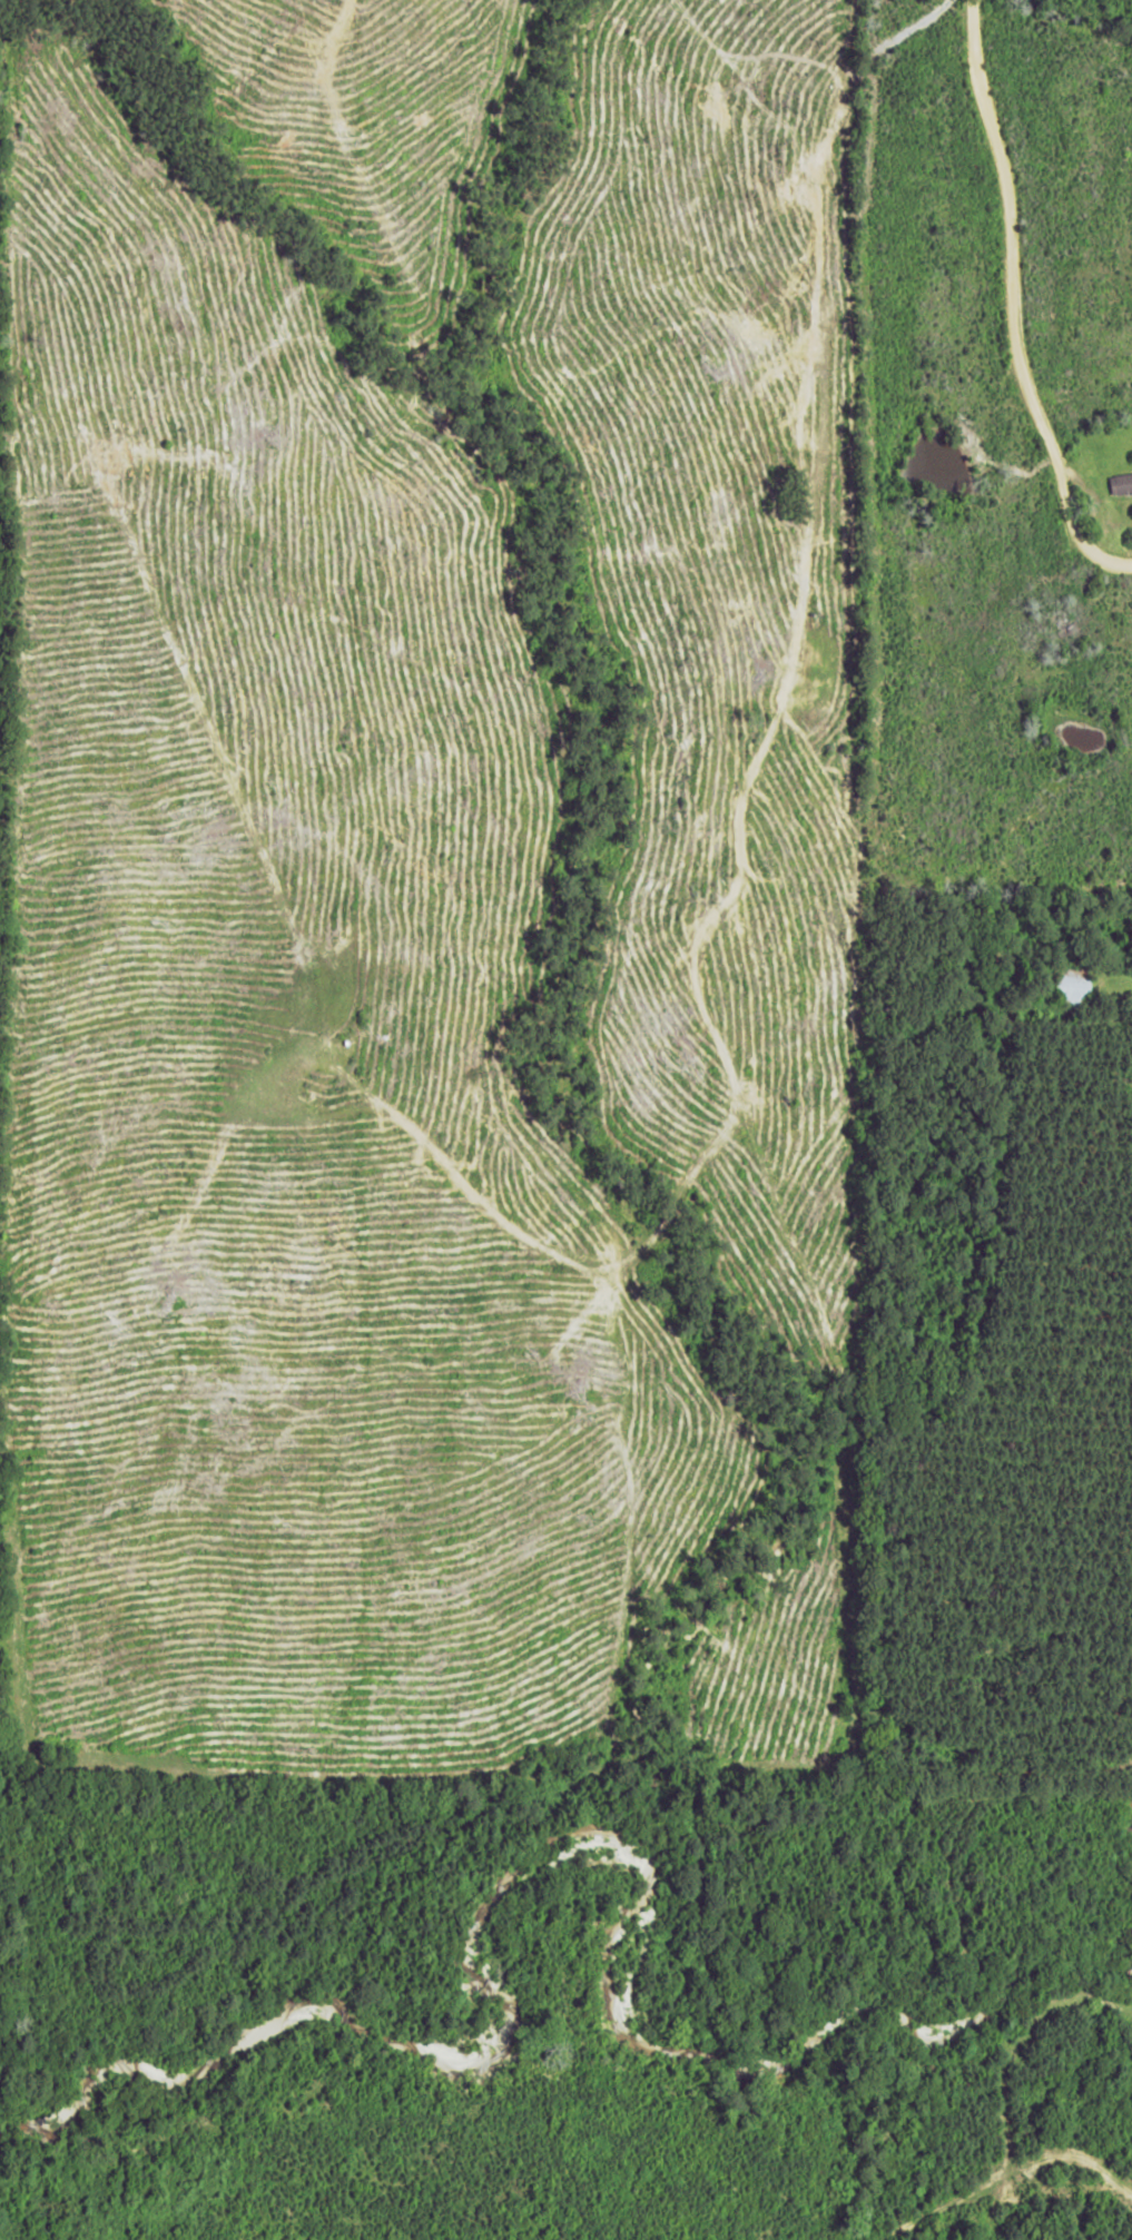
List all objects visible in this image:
road: (1040, 305)
building: (1121, 483)

